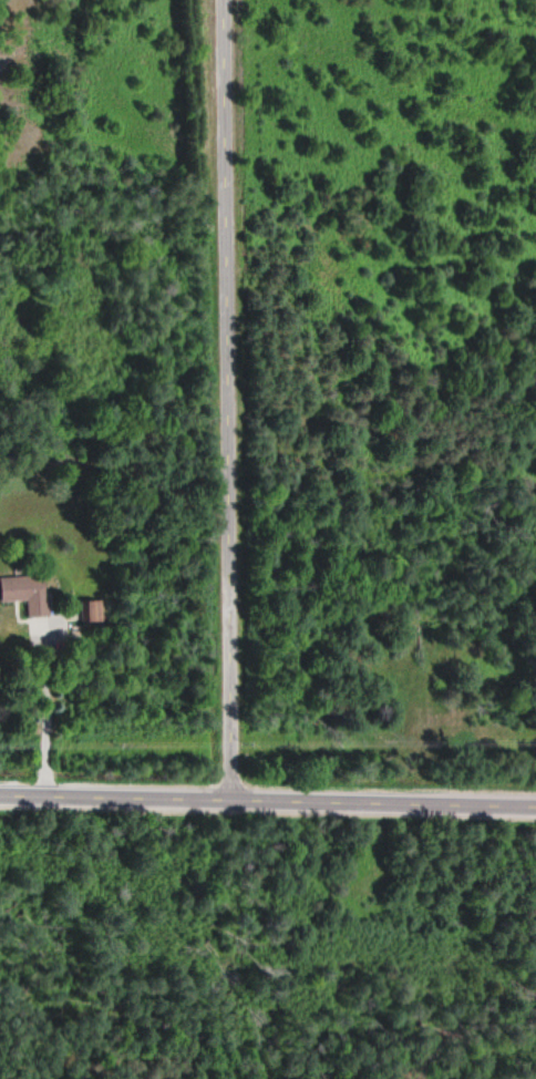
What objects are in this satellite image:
road: (226, 401)
building: (87, 613)
road: (267, 802)

